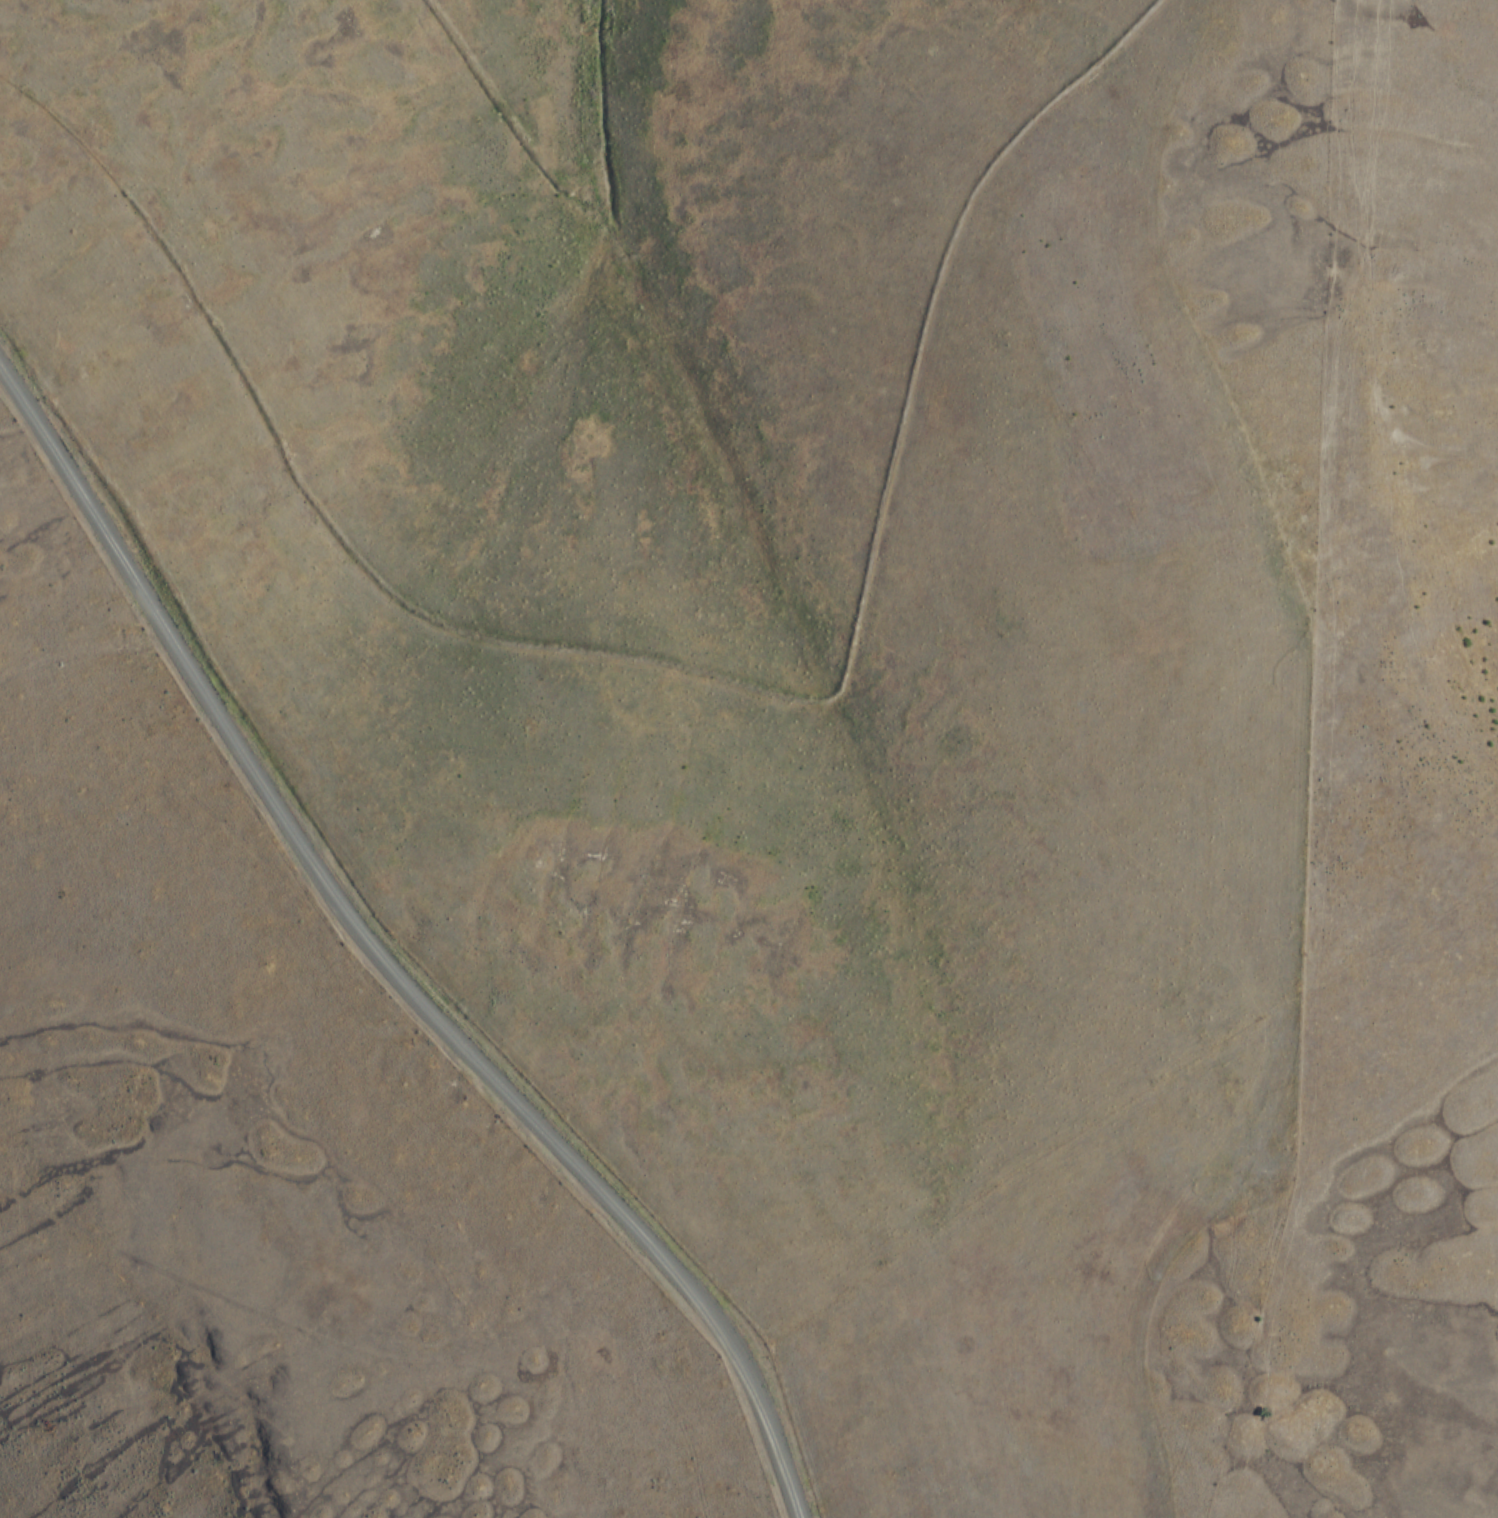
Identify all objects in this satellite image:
road: (391, 965)

